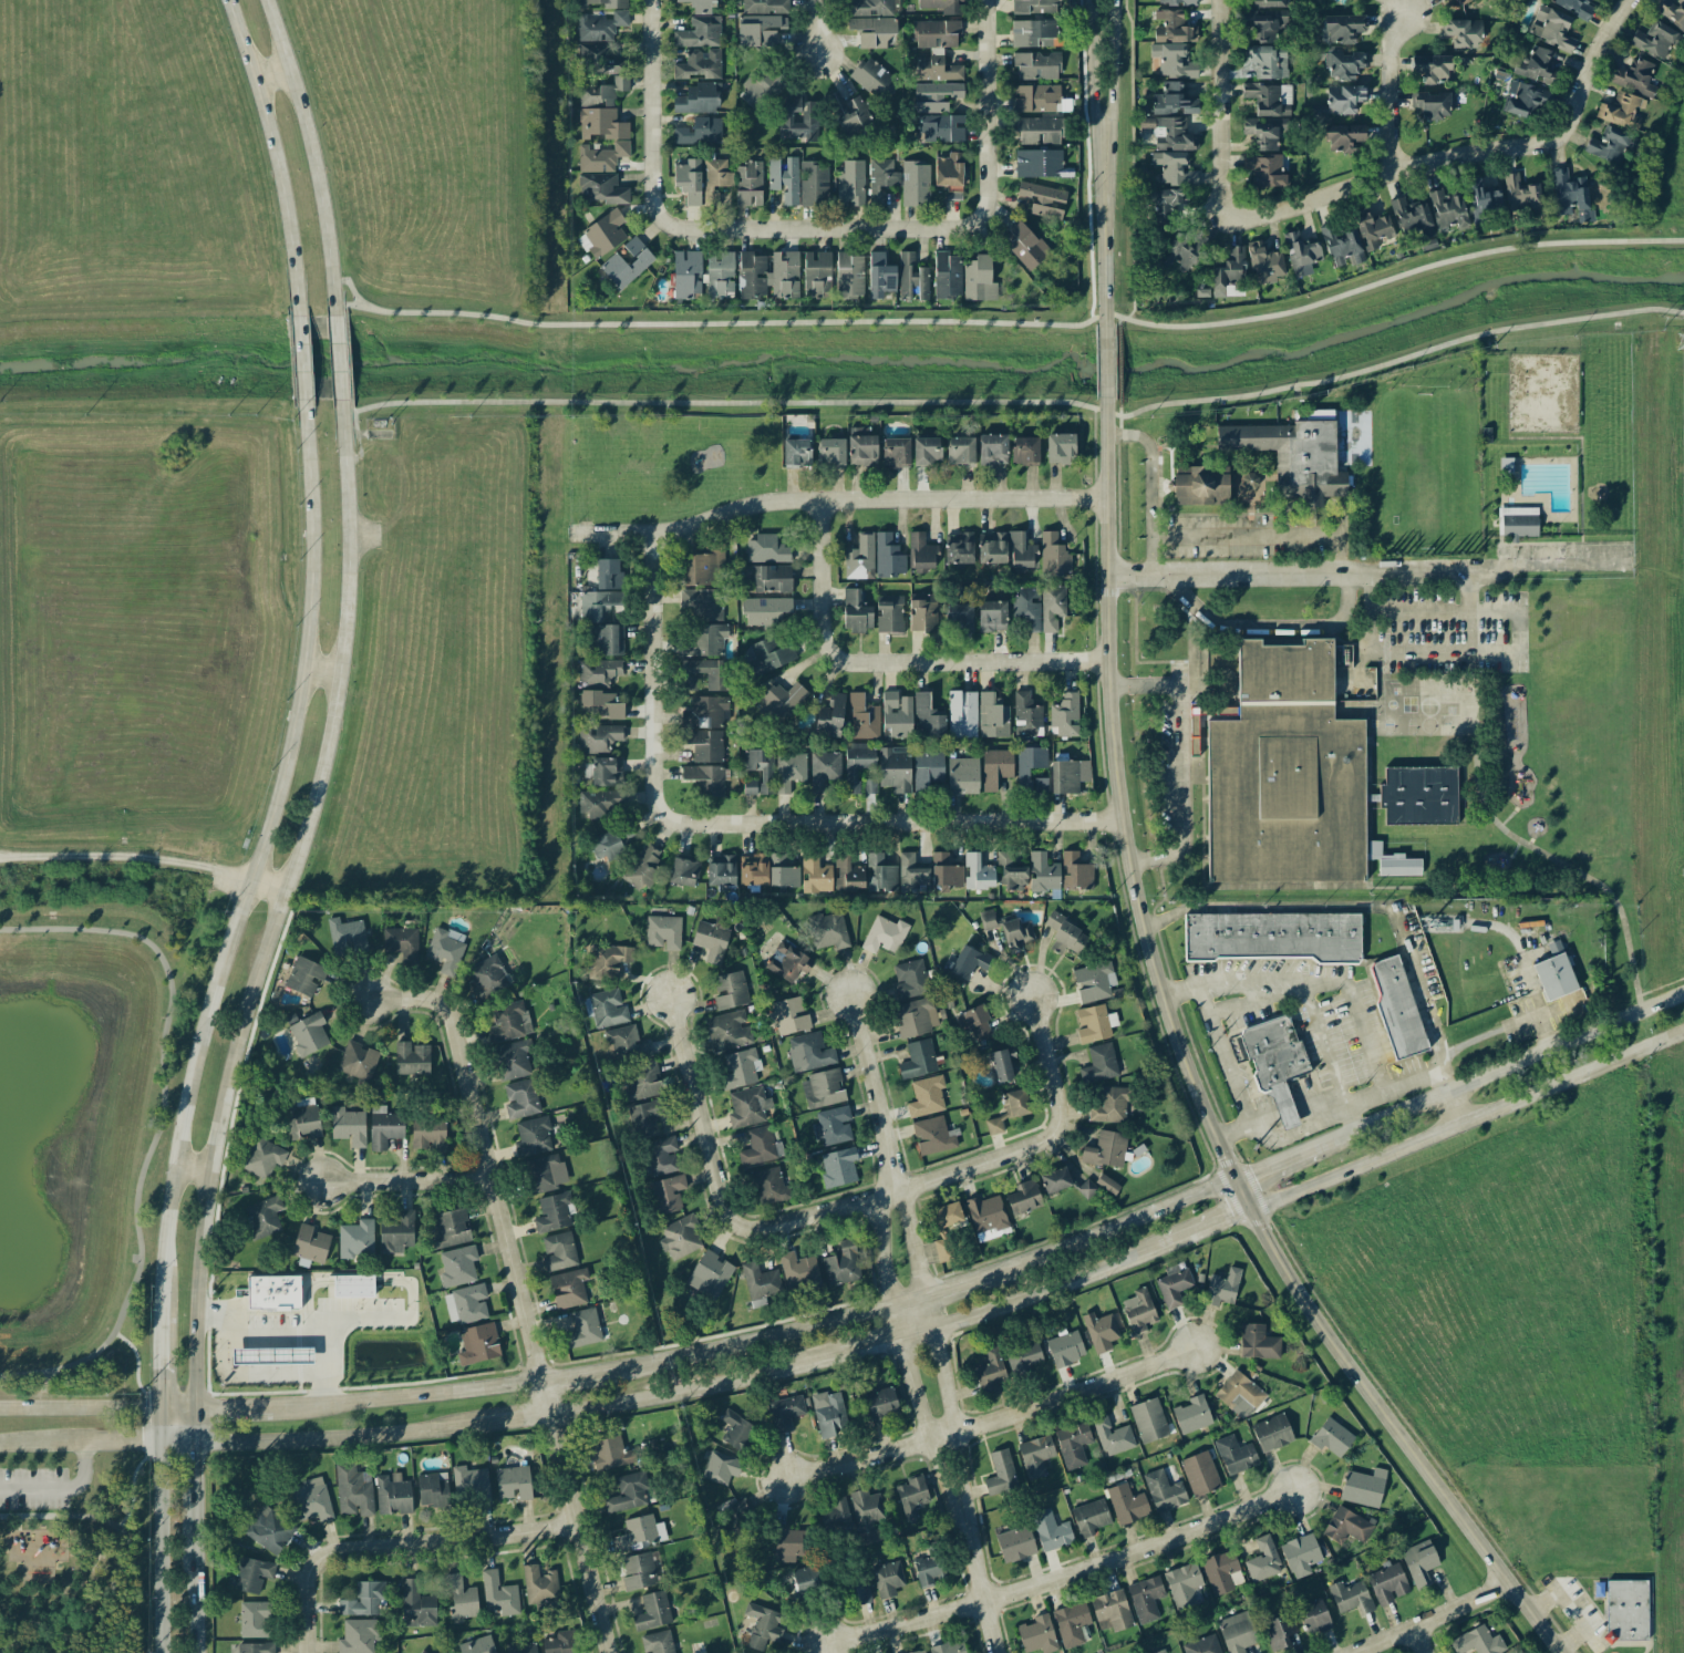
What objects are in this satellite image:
building: (1445, 0)
building: (1460, 1)
building: (1177, 2)
building: (606, 3)
building: (1268, 3)
building: (942, 6)
building: (1034, 6)
building: (765, 7)
building: (1575, 7)
building: (869, 8)
building: (1673, 12)
building: (699, 27)
road: (817, 27)
building: (1172, 27)
building: (1342, 28)
building: (1551, 28)
building: (760, 30)
building: (874, 31)
building: (1464, 32)
building: (936, 33)
building: (1032, 33)
building: (1657, 40)
road: (1222, 59)
building: (1174, 60)
building: (1268, 61)
building: (699, 63)
building: (1533, 63)
building: (1036, 65)
building: (1342, 65)
building: (936, 66)
building: (1432, 68)
road: (269, 73)
building: (1635, 78)
building: (874, 79)
building: (758, 90)
road: (1392, 90)
building: (601, 92)
building: (936, 96)
building: (1036, 97)
building: (698, 99)
building: (1520, 99)
building: (1174, 100)
building: (1340, 100)
road: (1095, 103)
road: (1112, 103)
building: (1434, 104)
building: (1621, 110)
building: (847, 112)
building: (798, 116)
building: (601, 124)
building: (941, 127)
building: (1040, 130)
building: (700, 132)
building: (1168, 132)
building: (1262, 133)
building: (1343, 136)
building: (1609, 144)
road: (273, 155)
road: (652, 155)
road: (310, 156)
road: (1423, 162)
building: (1037, 163)
road: (1132, 165)
building: (1174, 168)
building: (1265, 171)
building: (951, 174)
building: (714, 178)
building: (784, 178)
building: (880, 179)
building: (689, 180)
building: (915, 183)
building: (748, 184)
building: (813, 184)
building: (851, 184)
building: (601, 188)
building: (1522, 196)
building: (1570, 196)
building: (1043, 200)
building: (1484, 200)
building: (1166, 204)
building: (1447, 208)
building: (1412, 217)
road: (975, 220)
building: (1373, 229)
building: (602, 235)
building: (1025, 245)
building: (1342, 246)
building: (1178, 254)
building: (1301, 255)
building: (613, 262)
building: (1264, 264)
road: (1104, 267)
building: (816, 272)
building: (686, 273)
building: (720, 273)
building: (907, 273)
building: (768, 275)
building: (947, 275)
building: (1229, 275)
building: (849, 276)
building: (880, 276)
building: (979, 279)
building: (922, 283)
road: (1008, 324)
road: (338, 363)
road: (1118, 363)
road: (301, 364)
road: (1104, 370)
park: (1542, 394)
road: (1020, 403)
building: (1321, 414)
park: (1558, 442)
building: (861, 447)
building: (1060, 448)
building: (992, 450)
building: (926, 451)
building: (960, 451)
building: (1024, 451)
building: (896, 452)
building: (796, 453)
building: (830, 453)
building: (1292, 456)
road: (1148, 485)
building: (1198, 485)
road: (1117, 486)
road: (837, 498)
building: (1518, 523)
road: (1259, 538)
building: (991, 547)
building: (958, 548)
building: (767, 549)
building: (921, 551)
building: (1021, 552)
building: (888, 556)
building: (1053, 556)
building: (860, 558)
building: (705, 565)
road: (1368, 572)
building: (607, 574)
building: (772, 578)
road: (1370, 593)
building: (702, 603)
building: (598, 605)
building: (1052, 607)
building: (1026, 608)
building: (766, 610)
building: (855, 611)
building: (922, 612)
road: (1443, 613)
building: (889, 614)
road: (1468, 614)
building: (992, 616)
building: (959, 617)
road: (1262, 628)
road: (1370, 634)
road: (1517, 636)
building: (603, 639)
building: (705, 640)
building: (766, 655)
road: (1198, 655)
road: (1443, 657)
road: (891, 662)
building: (598, 671)
building: (704, 671)
road: (320, 672)
building: (689, 683)
road: (1154, 684)
building: (782, 701)
building: (599, 704)
building: (705, 712)
building: (897, 713)
building: (829, 714)
building: (962, 714)
building: (1065, 714)
building: (992, 715)
building: (1026, 715)
building: (928, 716)
building: (862, 717)
building: (599, 736)
building: (704, 744)
building: (1029, 765)
building: (761, 767)
building: (995, 767)
building: (895, 768)
building: (605, 771)
building: (824, 771)
building: (928, 771)
building: (788, 772)
building: (1302, 774)
building: (962, 775)
building: (1068, 775)
building: (705, 778)
building: (1040, 785)
building: (750, 786)
road: (1178, 793)
building: (601, 802)
road: (752, 823)
building: (611, 841)
road: (125, 857)
building: (1397, 865)
road: (1566, 867)
building: (642, 868)
building: (753, 869)
building: (720, 870)
building: (1011, 870)
building: (683, 871)
building: (782, 871)
building: (946, 871)
building: (912, 872)
building: (978, 872)
building: (1043, 872)
building: (1075, 872)
building: (847, 874)
building: (815, 875)
building: (880, 875)
road: (265, 886)
road: (275, 909)
road: (1363, 911)
building: (988, 919)
building: (828, 930)
building: (663, 931)
building: (885, 934)
building: (1015, 934)
building: (1064, 934)
building: (1272, 936)
building: (345, 937)
building: (711, 939)
building: (401, 943)
building: (445, 948)
building: (608, 959)
building: (788, 961)
building: (967, 961)
building: (1554, 974)
building: (304, 975)
building: (487, 977)
building: (910, 979)
building: (1094, 981)
road: (1236, 981)
building: (730, 990)
road: (1274, 999)
building: (1396, 1006)
building: (605, 1008)
building: (787, 1015)
building: (916, 1016)
building: (973, 1021)
building: (506, 1022)
building: (1094, 1023)
road: (203, 1027)
building: (727, 1031)
building: (308, 1032)
road: (1364, 1042)
building: (627, 1044)
building: (808, 1052)
building: (412, 1058)
building: (918, 1060)
building: (358, 1061)
building: (512, 1061)
building: (1275, 1062)
road: (1327, 1062)
building: (1099, 1063)
building: (1002, 1066)
building: (740, 1068)
road: (1227, 1071)
building: (642, 1081)
road: (1195, 1081)
road: (693, 1085)
building: (822, 1088)
road: (1056, 1089)
building: (926, 1096)
building: (520, 1098)
building: (1016, 1103)
building: (1108, 1105)
building: (747, 1107)
road: (1453, 1108)
road: (1344, 1115)
building: (301, 1117)
building: (645, 1117)
road: (159, 1125)
building: (994, 1125)
building: (348, 1126)
building: (833, 1126)
building: (383, 1127)
building: (428, 1134)
building: (932, 1136)
building: (533, 1137)
building: (757, 1146)
park: (89, 1148)
building: (1105, 1149)
building: (659, 1156)
building: (262, 1157)
building: (838, 1168)
road: (192, 1170)
building: (545, 1172)
road: (406, 1179)
building: (1055, 1179)
traffic signals: (1237, 1180)
building: (1107, 1184)
building: (767, 1185)
building: (1086, 1188)
building: (667, 1194)
building: (1023, 1197)
road: (846, 1207)
traffic signals: (1250, 1209)
road: (1159, 1210)
building: (552, 1212)
building: (947, 1213)
building: (262, 1217)
building: (988, 1217)
building: (451, 1228)
building: (397, 1231)
building: (680, 1237)
building: (357, 1239)
road: (1163, 1242)
building: (310, 1243)
building: (941, 1250)
building: (558, 1251)
building: (841, 1263)
building: (457, 1264)
building: (798, 1271)
building: (709, 1274)
building: (760, 1281)
building: (1172, 1284)
building: (352, 1285)
road: (520, 1288)
building: (568, 1288)
building: (1222, 1288)
building: (272, 1292)
building: (465, 1303)
building: (1138, 1310)
road: (932, 1320)
building: (582, 1327)
building: (1101, 1331)
road: (285, 1337)
building: (1258, 1342)
building: (478, 1343)
building: (1065, 1349)
building: (271, 1356)
road: (136, 1358)
building: (1023, 1358)
building: (990, 1371)
road: (912, 1386)
building: (1239, 1394)
road: (406, 1395)
building: (881, 1404)
road: (96, 1408)
building: (785, 1412)
building: (828, 1414)
building: (1191, 1414)
road: (990, 1419)
building: (1148, 1419)
road: (147, 1424)
road: (194, 1426)
building: (735, 1430)
building: (1272, 1433)
building: (1113, 1436)
building: (1332, 1437)
road: (313, 1440)
building: (1073, 1444)
building: (610, 1453)
building: (1035, 1455)
building: (1234, 1455)
building: (721, 1467)
building: (1000, 1473)
building: (1199, 1474)
road: (194, 1478)
building: (471, 1482)
building: (513, 1482)
road: (59, 1487)
building: (1363, 1487)
parking lot: (34, 1488)
building: (432, 1490)
building: (1164, 1490)
road: (132, 1491)
building: (352, 1491)
building: (392, 1494)
building: (626, 1494)
building: (912, 1496)
building: (310, 1500)
building: (1126, 1504)
building: (834, 1515)
road: (34, 1516)
building: (868, 1517)
building: (1089, 1517)
road: (19, 1522)
building: (1346, 1526)
building: (269, 1529)
building: (1051, 1530)
building: (731, 1532)
building: (639, 1533)
road: (447, 1538)
building: (1015, 1543)
building: (786, 1544)
building: (1300, 1552)
park: (73, 1554)
building: (1262, 1559)
road: (122, 1563)
building: (1419, 1564)
building: (927, 1570)
building: (641, 1571)
building: (1220, 1571)
building: (249, 1574)
road: (1061, 1574)
building: (887, 1579)
building: (804, 1580)
road: (194, 1582)
building: (539, 1584)
building: (1387, 1584)
building: (1184, 1585)
building: (861, 1589)
building: (498, 1594)
building: (1351, 1597)
building: (461, 1598)
building: (363, 1599)
building: (1146, 1599)
road: (309, 1604)
building: (416, 1605)
road: (1577, 1609)
building: (1626, 1610)
building: (652, 1611)
building: (1112, 1611)
building: (255, 1619)
road: (1434, 1619)
building: (1314, 1621)
building: (1071, 1624)
building: (762, 1625)
building: (1279, 1631)
building: (1238, 1632)
building: (1037, 1634)
building: (358, 1635)
building: (1477, 1641)
building: (657, 1642)
road: (1416, 1642)
building: (560, 1643)
building: (477, 1645)
building: (1202, 1645)
building: (255, 1647)
building: (521, 1647)
building: (948, 1647)
building: (423, 1651)
building: (918, 1651)
building: (1159, 1651)

